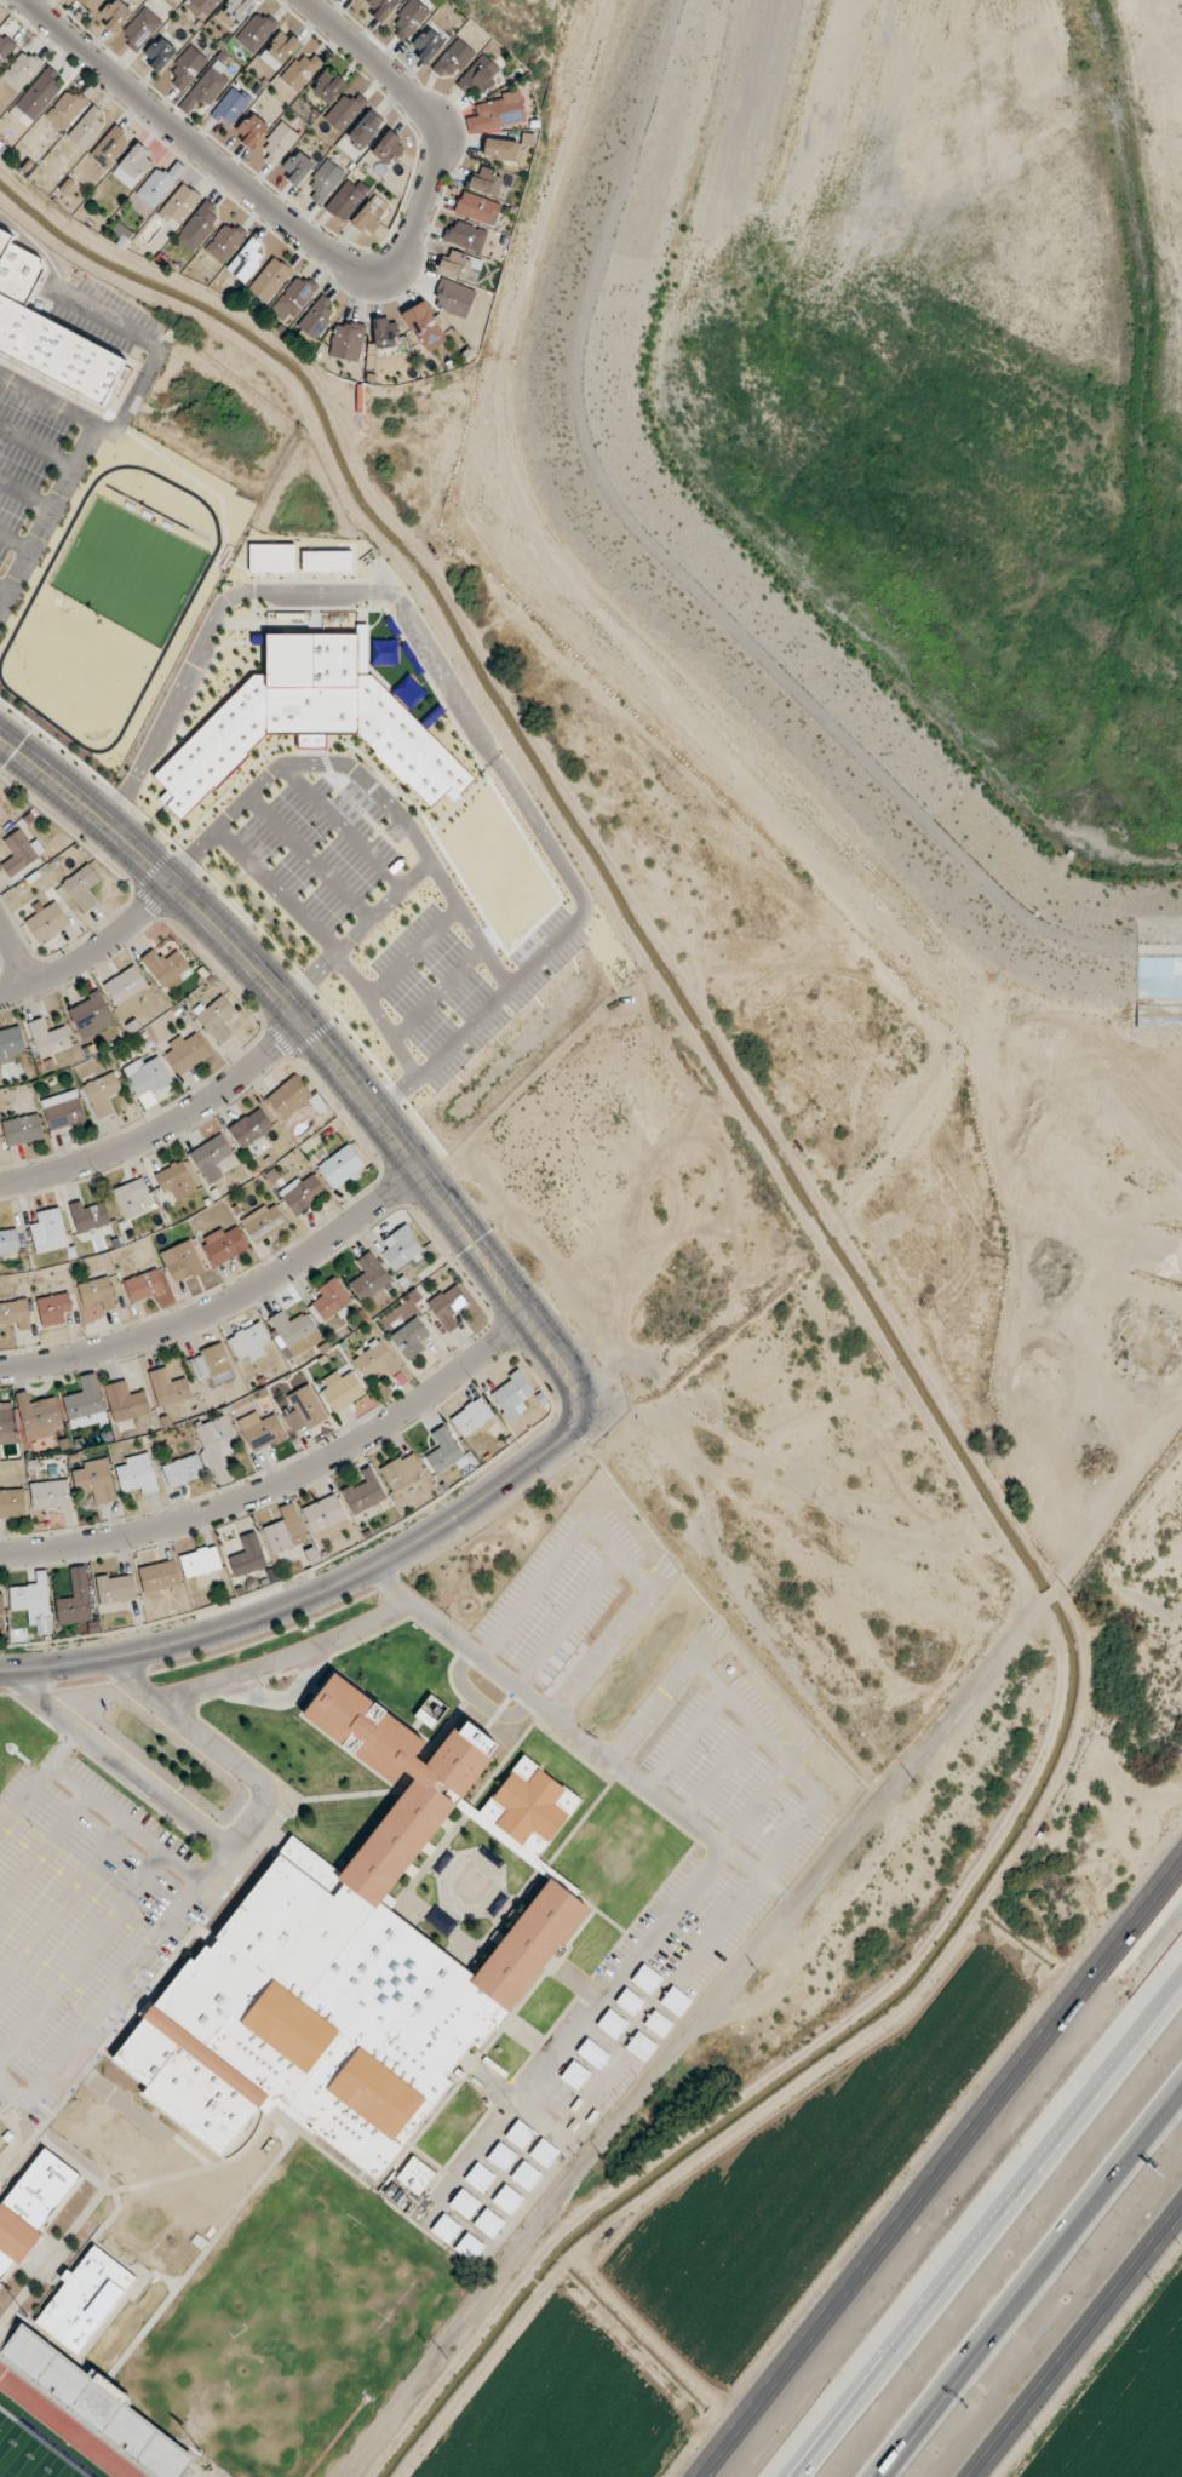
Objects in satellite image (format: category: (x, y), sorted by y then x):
building: (356, 0)
building: (91, 5)
building: (380, 7)
building: (114, 16)
building: (408, 19)
building: (139, 30)
building: (256, 31)
building: (426, 45)
building: (5, 46)
building: (280, 50)
building: (159, 53)
building: (453, 59)
building: (185, 68)
building: (22, 69)
building: (299, 71)
building: (478, 75)
building: (327, 86)
building: (206, 87)
building: (39, 93)
building: (231, 104)
building: (65, 109)
building: (344, 111)
building: (499, 113)
building: (88, 128)
building: (251, 130)
building: (365, 130)
building: (277, 143)
building: (110, 147)
building: (389, 147)
building: (499, 149)
building: (133, 165)
building: (297, 167)
building: (486, 180)
building: (323, 182)
building: (156, 185)
building: (346, 199)
building: (178, 205)
building: (477, 208)
building: (368, 218)
building: (197, 227)
building: (465, 235)
building: (224, 242)
road: (335, 253)
building: (247, 260)
building: (458, 265)
building: (270, 279)
building: (294, 298)
building: (453, 298)
building: (315, 320)
road: (113, 322)
building: (426, 329)
building: (385, 332)
building: (47, 333)
building: (346, 340)
road: (69, 465)
road: (457, 694)
building: (0, 826)
building: (19, 852)
building: (82, 888)
road: (308, 917)
building: (46, 922)
road: (94, 952)
road: (15, 954)
building: (166, 969)
road: (312, 976)
building: (126, 990)
building: (90, 1015)
building: (217, 1019)
building: (48, 1038)
building: (10, 1044)
road: (326, 1049)
building: (185, 1054)
building: (144, 1076)
building: (102, 1094)
building: (288, 1097)
building: (63, 1112)
road: (165, 1128)
building: (249, 1128)
building: (22, 1130)
building: (210, 1157)
building: (342, 1168)
building: (176, 1181)
building: (303, 1196)
building: (130, 1198)
building: (88, 1216)
building: (263, 1222)
building: (48, 1232)
building: (8, 1242)
building: (224, 1245)
building: (401, 1249)
building: (182, 1262)
building: (368, 1277)
building: (143, 1286)
building: (98, 1294)
road: (225, 1302)
building: (329, 1302)
building: (447, 1306)
building: (54, 1309)
building: (15, 1315)
building: (294, 1332)
building: (409, 1340)
building: (248, 1342)
building: (375, 1361)
building: (212, 1365)
building: (168, 1389)
building: (340, 1391)
building: (512, 1394)
building: (125, 1403)
building: (85, 1404)
building: (304, 1411)
building: (39, 1417)
building: (471, 1417)
building: (7, 1426)
building: (263, 1432)
building: (217, 1445)
building: (443, 1453)
building: (401, 1470)
building: (182, 1472)
building: (137, 1475)
road: (285, 1480)
building: (93, 1481)
building: (362, 1493)
building: (50, 1496)
building: (12, 1503)
building: (325, 1516)
building: (285, 1531)
road: (563, 1552)
building: (247, 1556)
building: (200, 1563)
building: (159, 1576)
building: (116, 1589)
road: (319, 1592)
parking lot: (560, 1592)
building: (29, 1598)
building: (75, 1599)
building: (1, 1609)
road: (567, 1621)
road: (609, 1645)
road: (286, 1651)
road: (661, 1695)
road: (478, 1701)
road: (563, 1722)
road: (684, 1738)
road: (64, 1747)
road: (719, 1772)
road: (91, 1799)
road: (224, 1840)
road: (44, 1850)
road: (765, 1865)
parking lot: (702, 1869)
road: (685, 1892)
road: (61, 1900)
parking lot: (79, 1920)
road: (80, 1954)
building: (351, 1961)
road: (125, 1973)
road: (685, 2046)
building: (590, 2053)
building: (573, 2075)
road: (11, 2092)
building: (556, 2098)
building: (587, 2108)
building: (569, 2131)
building: (518, 2134)
building: (541, 2151)
building: (500, 2156)
road: (941, 2168)
building: (413, 2174)
building: (524, 2175)
building: (477, 2177)
building: (505, 2198)
building: (30, 2203)
building: (463, 2203)
building: (487, 2223)
building: (443, 2229)
road: (993, 2232)
building: (466, 2247)
road: (1031, 2283)
building: (84, 2298)
park: (272, 2321)
road: (1077, 2341)
building: (19, 2349)
stadium: (76, 2419)
track: (64, 2426)
road: (924, 2430)
road: (821, 2452)
park: (28, 2455)
parking lot: (213, 2471)

